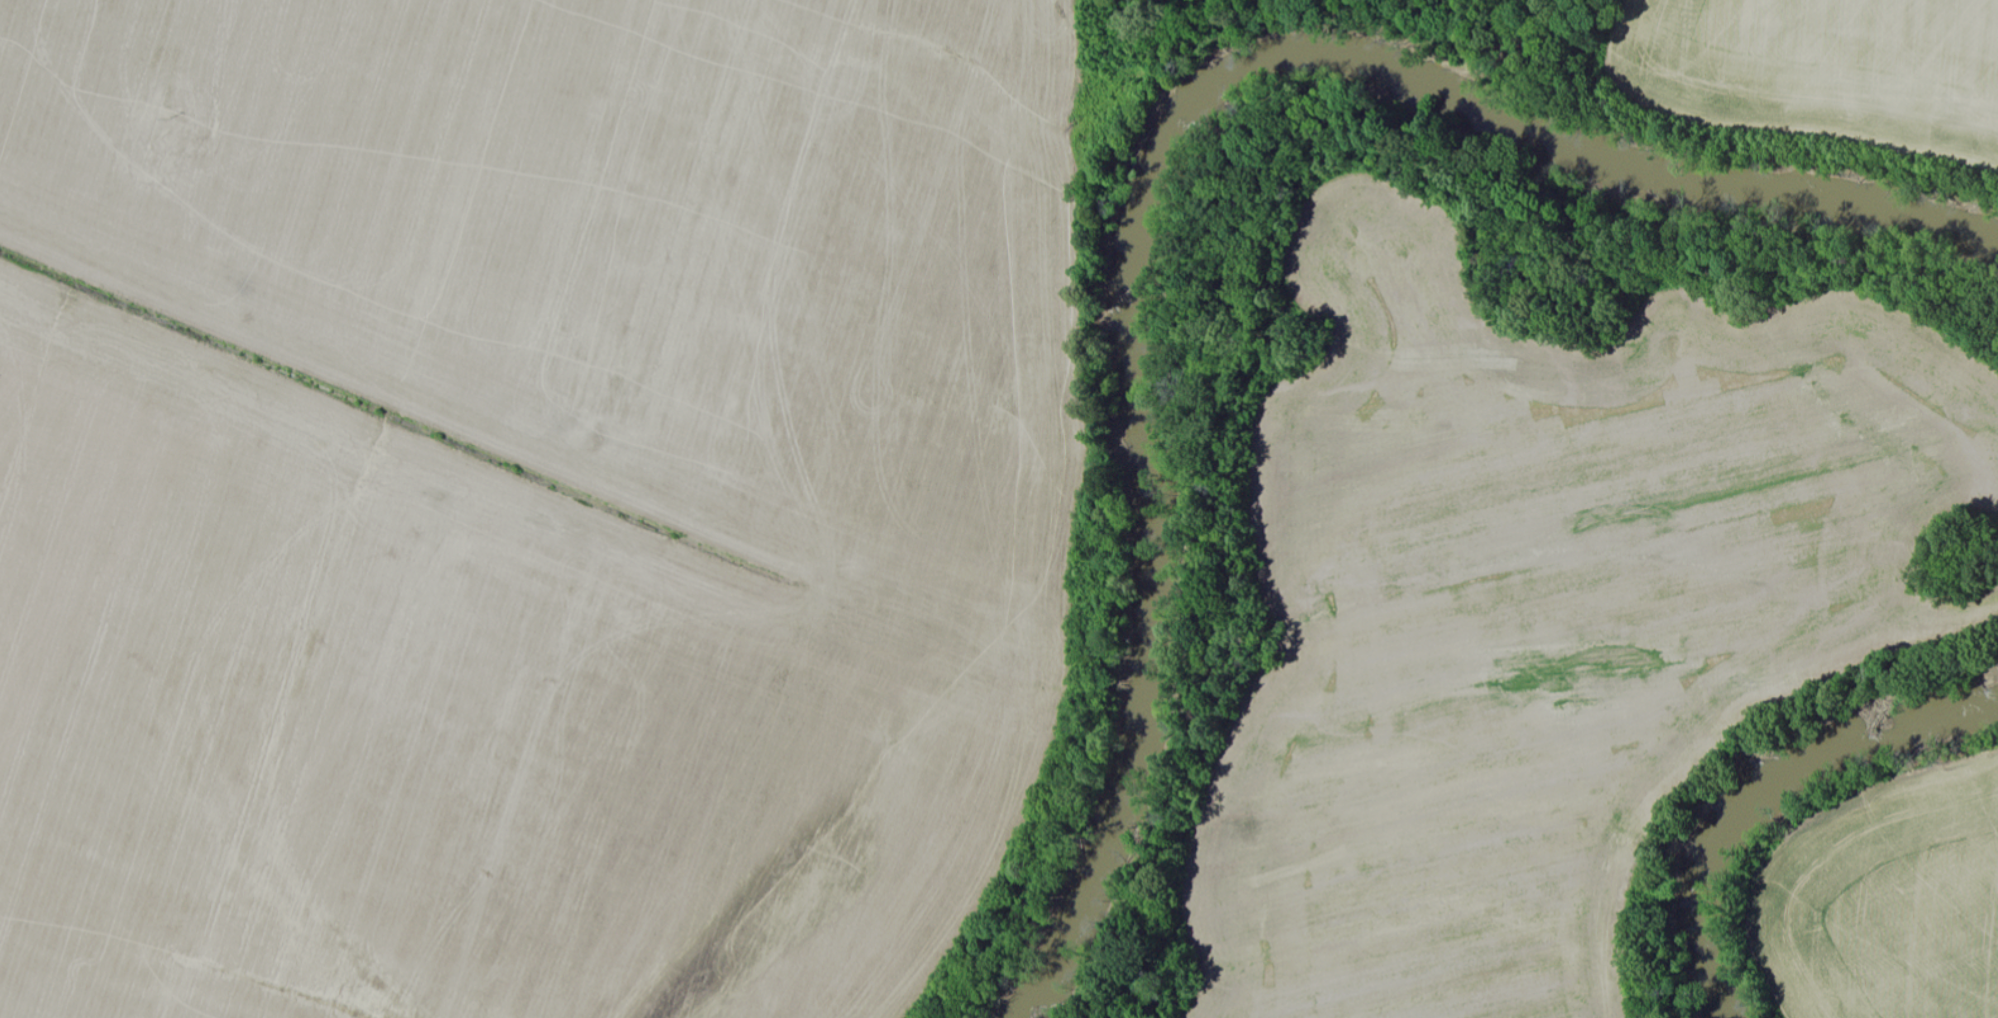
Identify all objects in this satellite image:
river: (1156, 142)
river: (1770, 797)

